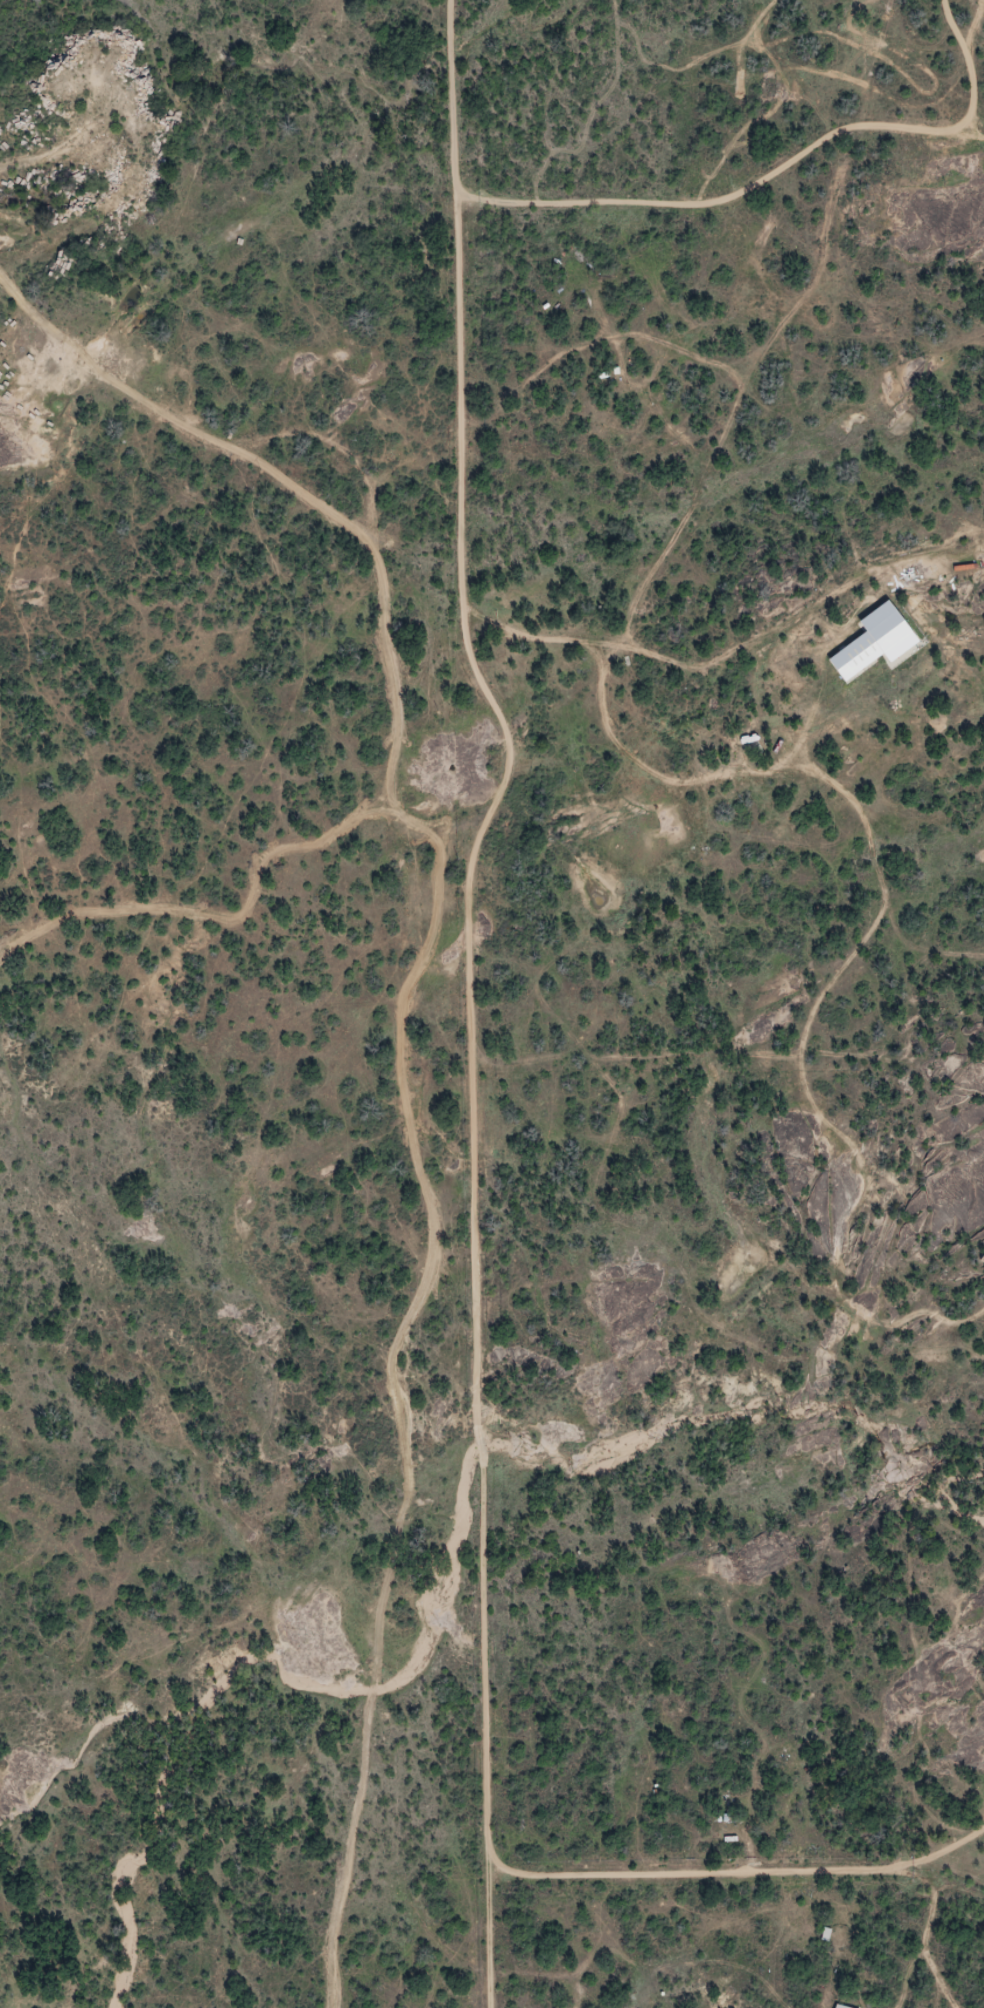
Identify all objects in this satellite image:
quarry: (91, 198)
building: (876, 643)
building: (749, 742)
road: (514, 767)
building: (841, 2006)

